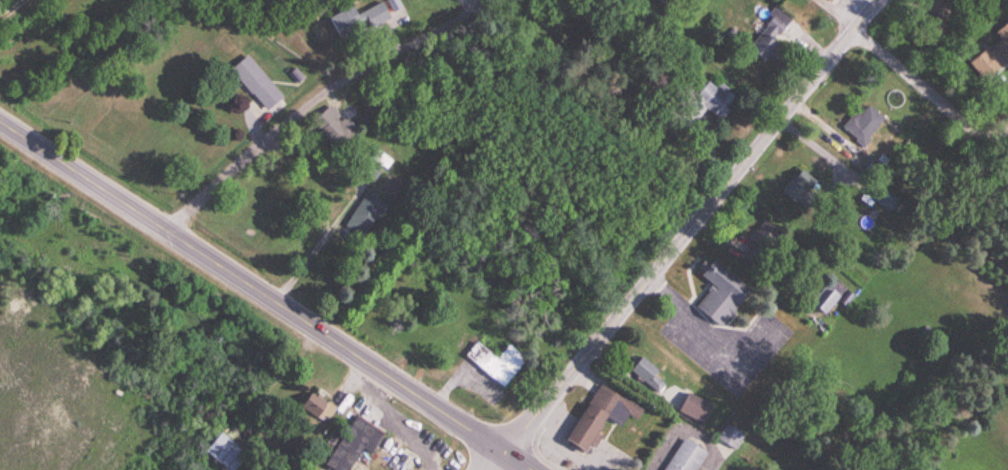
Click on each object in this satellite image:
building: (664, 1)
road: (10, 8)
building: (767, 40)
building: (993, 56)
building: (257, 83)
road: (929, 93)
building: (701, 105)
road: (293, 119)
building: (862, 125)
building: (335, 128)
building: (375, 165)
building: (799, 186)
building: (365, 215)
road: (693, 226)
building: (767, 233)
building: (722, 291)
road: (265, 295)
building: (825, 300)
road: (715, 334)
parking lot: (726, 342)
building: (498, 363)
building: (648, 375)
building: (318, 408)
building: (695, 408)
building: (600, 418)
building: (732, 437)
building: (356, 444)
building: (225, 452)
building: (687, 457)
road: (497, 462)

